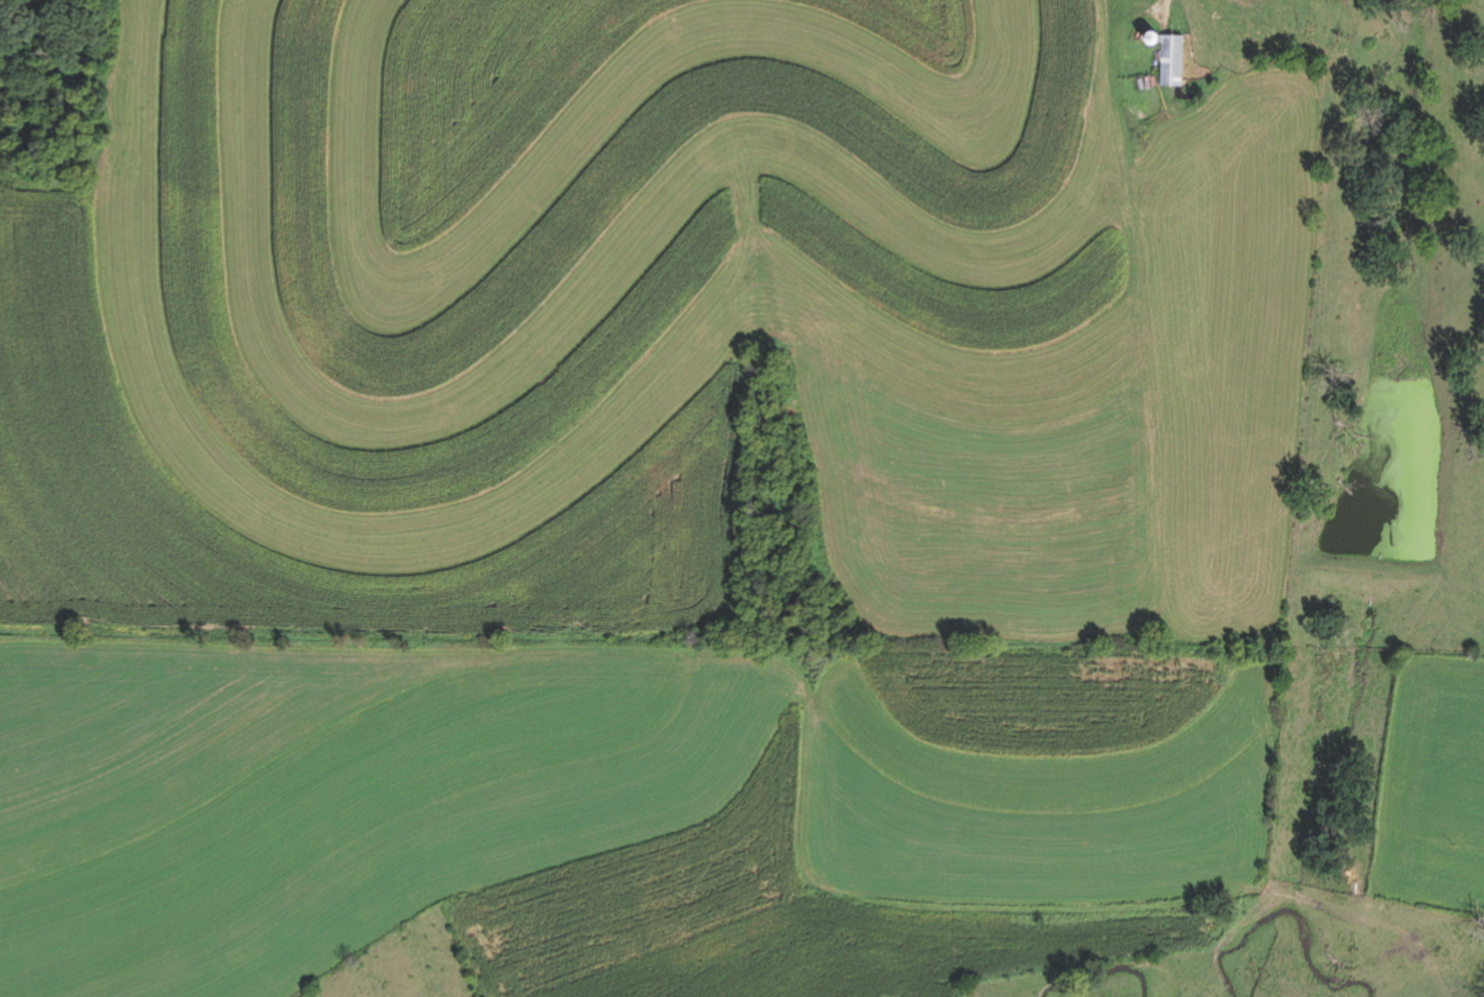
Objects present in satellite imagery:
building: (1171, 60)

